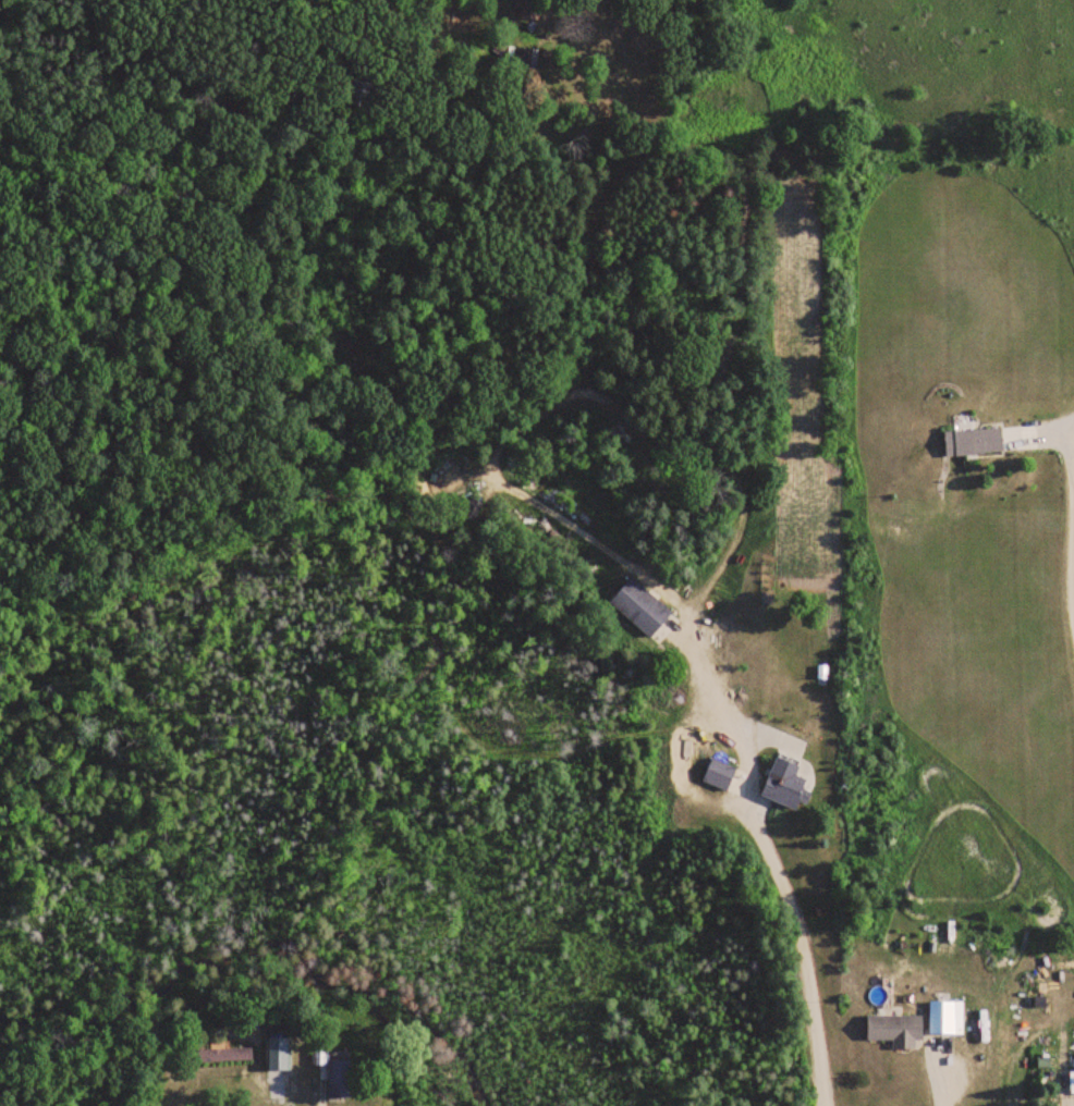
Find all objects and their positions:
building: (528, 8)
building: (524, 59)
building: (361, 93)
building: (973, 442)
building: (474, 509)
road: (1069, 578)
building: (639, 607)
building: (718, 774)
building: (784, 784)
road: (796, 939)
building: (944, 1017)
building: (895, 1029)
building: (216, 1054)
building: (335, 1071)

